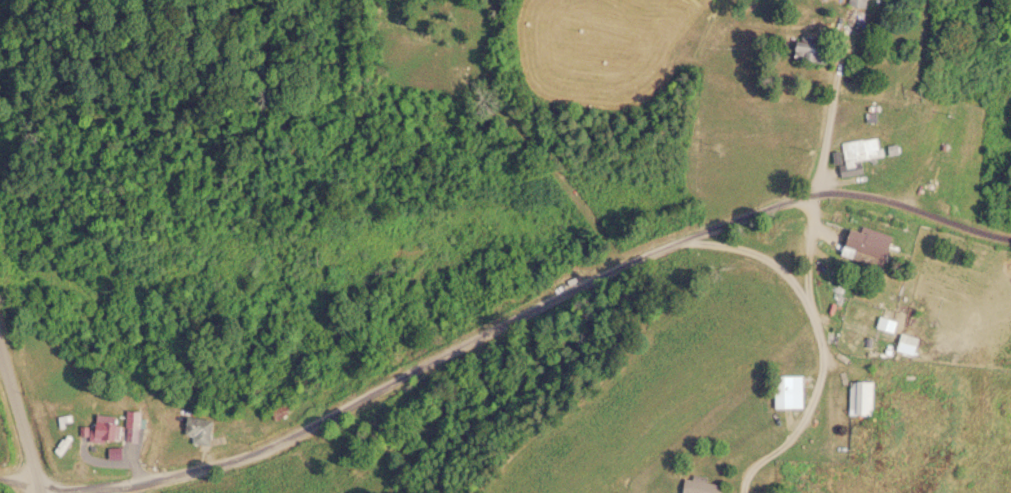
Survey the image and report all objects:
building: (854, 3)
building: (805, 51)
building: (856, 151)
building: (934, 180)
building: (861, 247)
road: (491, 305)
building: (902, 343)
building: (785, 391)
building: (857, 397)
building: (279, 410)
building: (127, 418)
road: (20, 423)
building: (99, 428)
building: (195, 429)
building: (696, 485)

